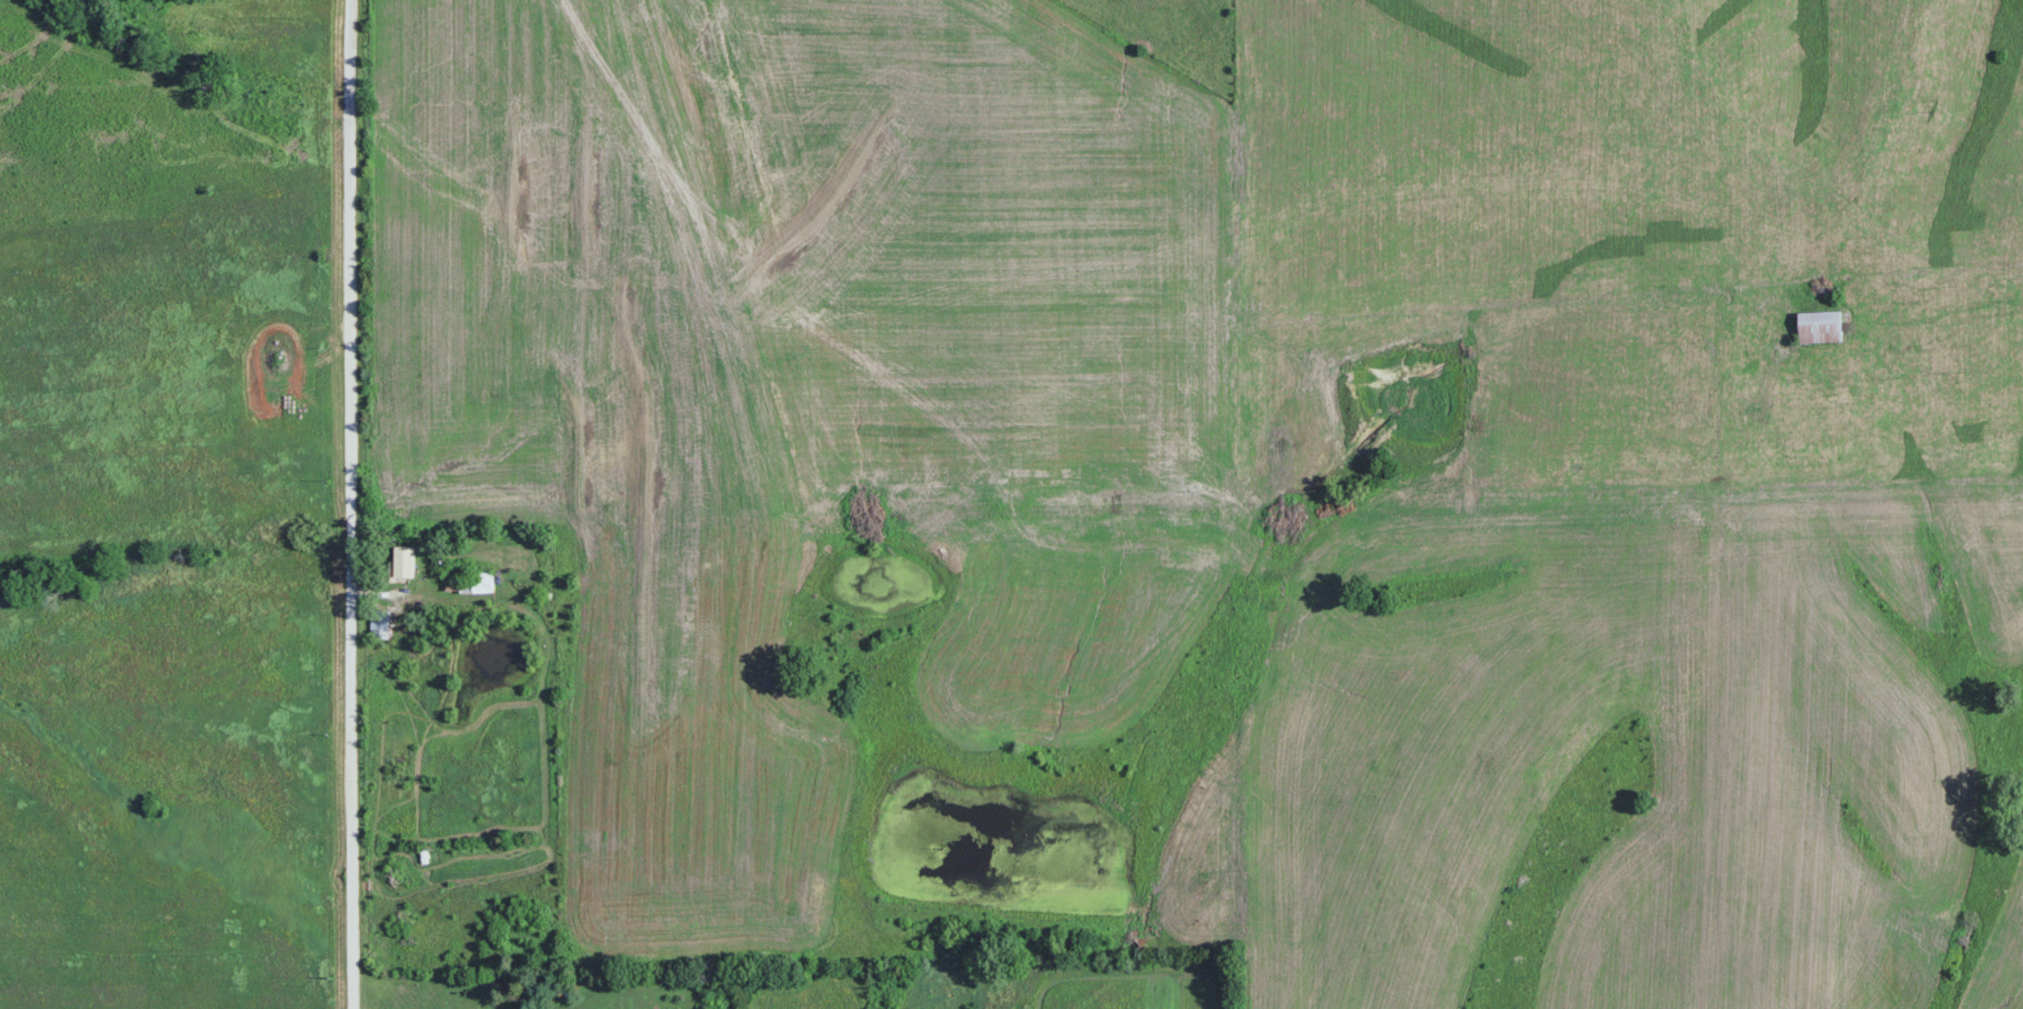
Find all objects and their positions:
building: (1820, 327)
road: (351, 504)
building: (403, 562)
building: (477, 584)
building: (378, 624)

